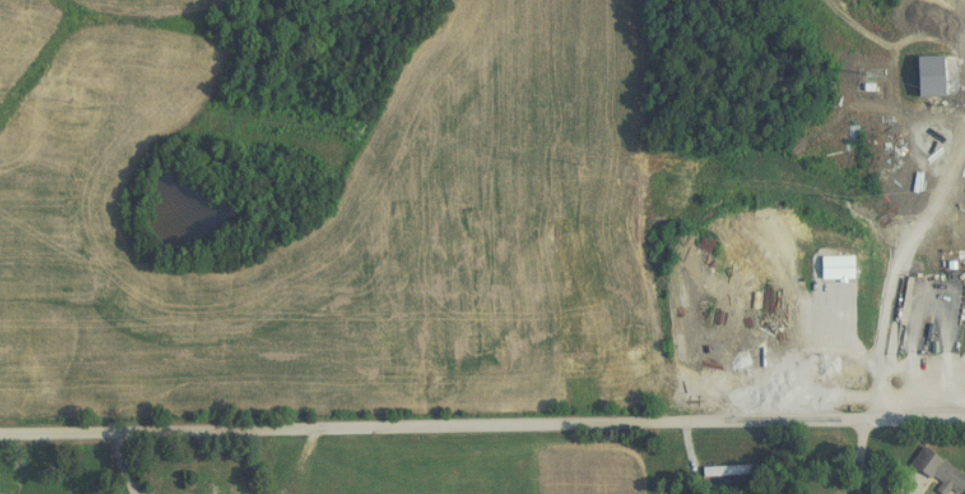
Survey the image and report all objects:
road: (897, 259)
building: (827, 267)
road: (822, 347)
road: (482, 431)
road: (869, 456)
road: (142, 464)
building: (719, 470)
building: (932, 472)
building: (215, 484)

